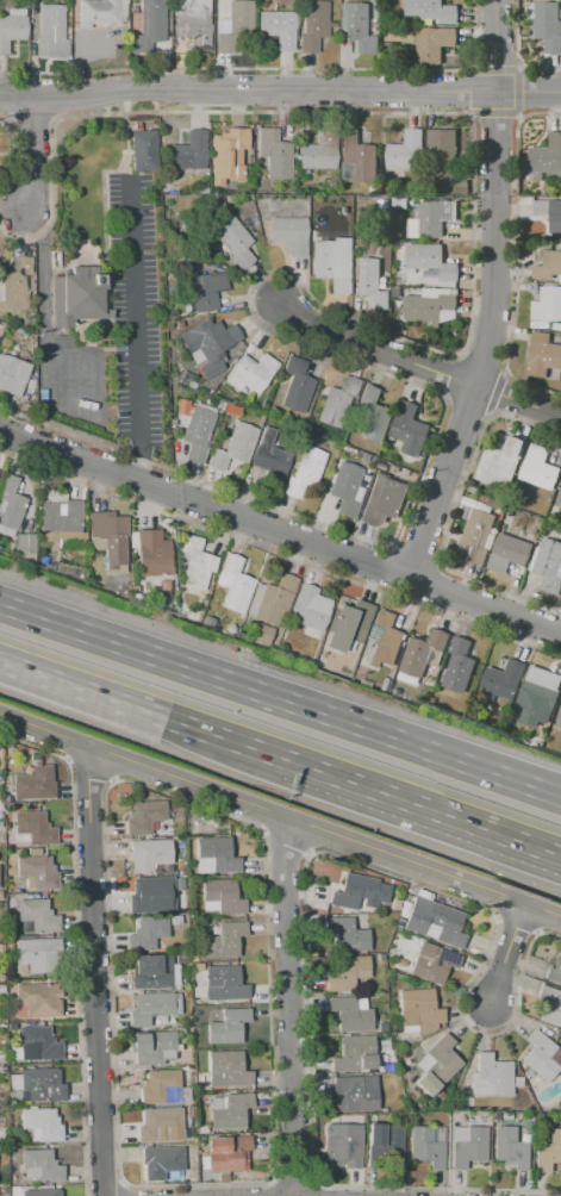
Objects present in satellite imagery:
building: (206, 6)
building: (430, 11)
building: (101, 12)
building: (151, 24)
building: (192, 25)
building: (313, 25)
building: (357, 25)
building: (548, 25)
building: (375, 26)
building: (12, 27)
building: (278, 29)
building: (235, 30)
building: (51, 32)
building: (434, 43)
road: (280, 89)
building: (442, 147)
building: (143, 150)
building: (406, 150)
building: (318, 151)
building: (187, 154)
building: (273, 154)
building: (227, 155)
road: (27, 156)
building: (356, 157)
building: (546, 157)
building: (546, 192)
building: (399, 203)
building: (550, 212)
building: (431, 219)
building: (289, 235)
building: (232, 241)
building: (430, 261)
building: (329, 267)
building: (549, 267)
building: (370, 282)
building: (17, 285)
building: (206, 291)
building: (395, 292)
road: (494, 294)
building: (76, 295)
building: (546, 305)
building: (431, 306)
road: (135, 332)
building: (210, 345)
building: (542, 354)
road: (418, 362)
building: (250, 373)
building: (12, 375)
road: (55, 382)
building: (30, 384)
building: (295, 385)
building: (337, 401)
building: (182, 407)
building: (374, 415)
building: (409, 429)
building: (197, 434)
building: (233, 447)
building: (269, 456)
building: (500, 461)
building: (538, 468)
building: (304, 471)
building: (345, 488)
building: (473, 488)
building: (382, 499)
building: (559, 499)
building: (478, 504)
building: (10, 505)
building: (61, 521)
road: (280, 530)
building: (476, 537)
building: (108, 538)
building: (25, 543)
building: (151, 553)
building: (507, 553)
building: (195, 563)
building: (548, 565)
building: (233, 584)
building: (163, 585)
building: (132, 588)
building: (272, 600)
building: (310, 610)
building: (348, 625)
building: (262, 634)
building: (384, 639)
building: (424, 653)
building: (459, 665)
building: (503, 678)
building: (540, 692)
road: (280, 702)
building: (473, 710)
road: (147, 711)
building: (559, 720)
building: (536, 740)
building: (33, 784)
road: (428, 809)
road: (280, 816)
building: (143, 817)
building: (35, 827)
building: (147, 854)
building: (218, 854)
building: (37, 872)
building: (359, 892)
building: (151, 895)
building: (223, 896)
building: (37, 915)
building: (435, 922)
building: (145, 933)
building: (345, 935)
building: (223, 940)
building: (38, 955)
road: (507, 957)
building: (431, 961)
road: (94, 971)
building: (151, 971)
building: (345, 973)
building: (553, 974)
building: (224, 984)
building: (37, 1001)
building: (550, 1005)
road: (288, 1007)
building: (149, 1008)
building: (419, 1009)
building: (349, 1015)
building: (227, 1027)
building: (38, 1045)
building: (150, 1046)
building: (353, 1055)
building: (540, 1057)
building: (437, 1065)
building: (227, 1072)
building: (491, 1077)
building: (40, 1085)
building: (160, 1086)
building: (353, 1094)
building: (230, 1113)
building: (42, 1123)
building: (160, 1126)
building: (384, 1144)
building: (342, 1146)
building: (426, 1146)
building: (468, 1147)
building: (510, 1148)
building: (548, 1152)
building: (227, 1153)
building: (160, 1161)
building: (40, 1166)
road: (193, 1175)
building: (40, 1192)

